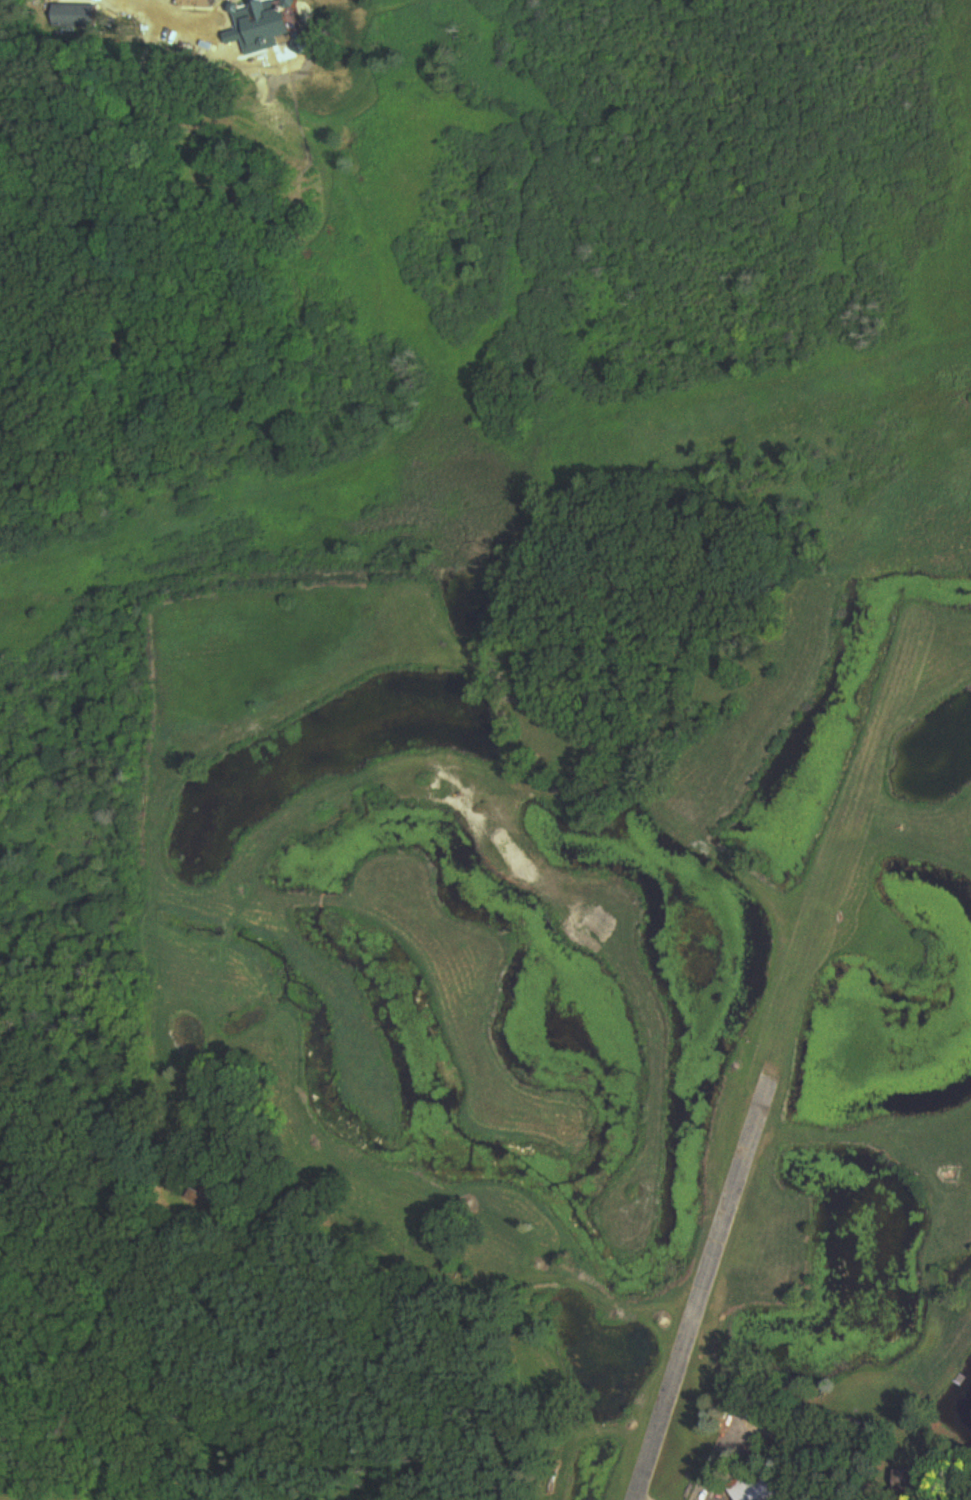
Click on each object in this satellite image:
building: (204, 2)
building: (78, 16)
road: (179, 20)
building: (273, 25)
building: (211, 1198)
building: (920, 1480)
building: (763, 1484)

